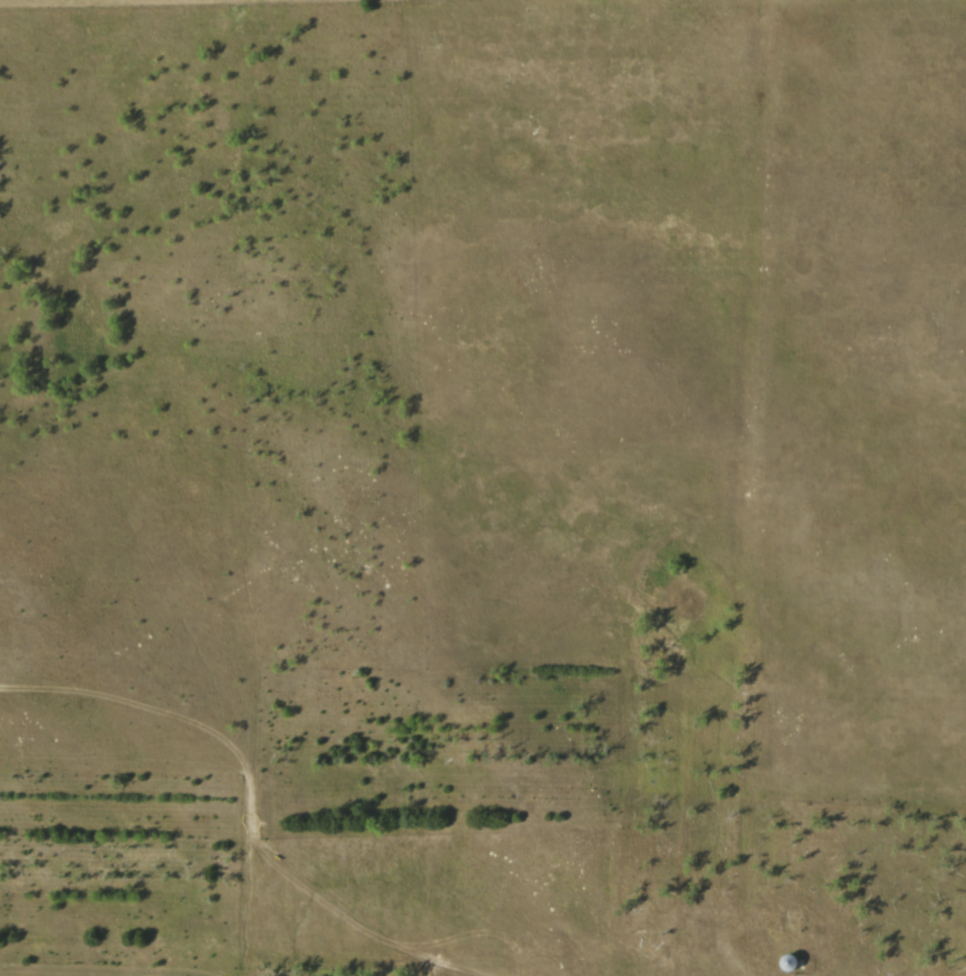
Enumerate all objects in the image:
building: (943, 513)
building: (785, 961)

